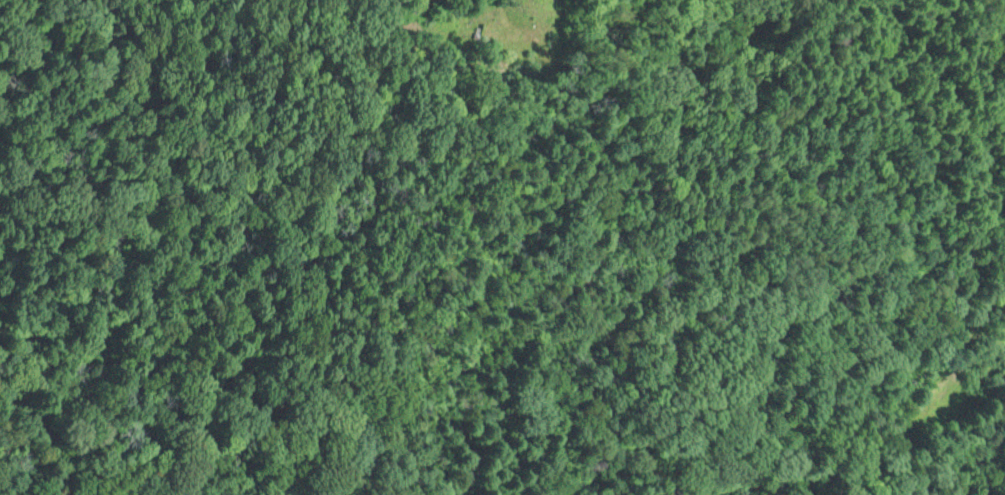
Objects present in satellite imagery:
building: (485, 33)
building: (540, 39)

